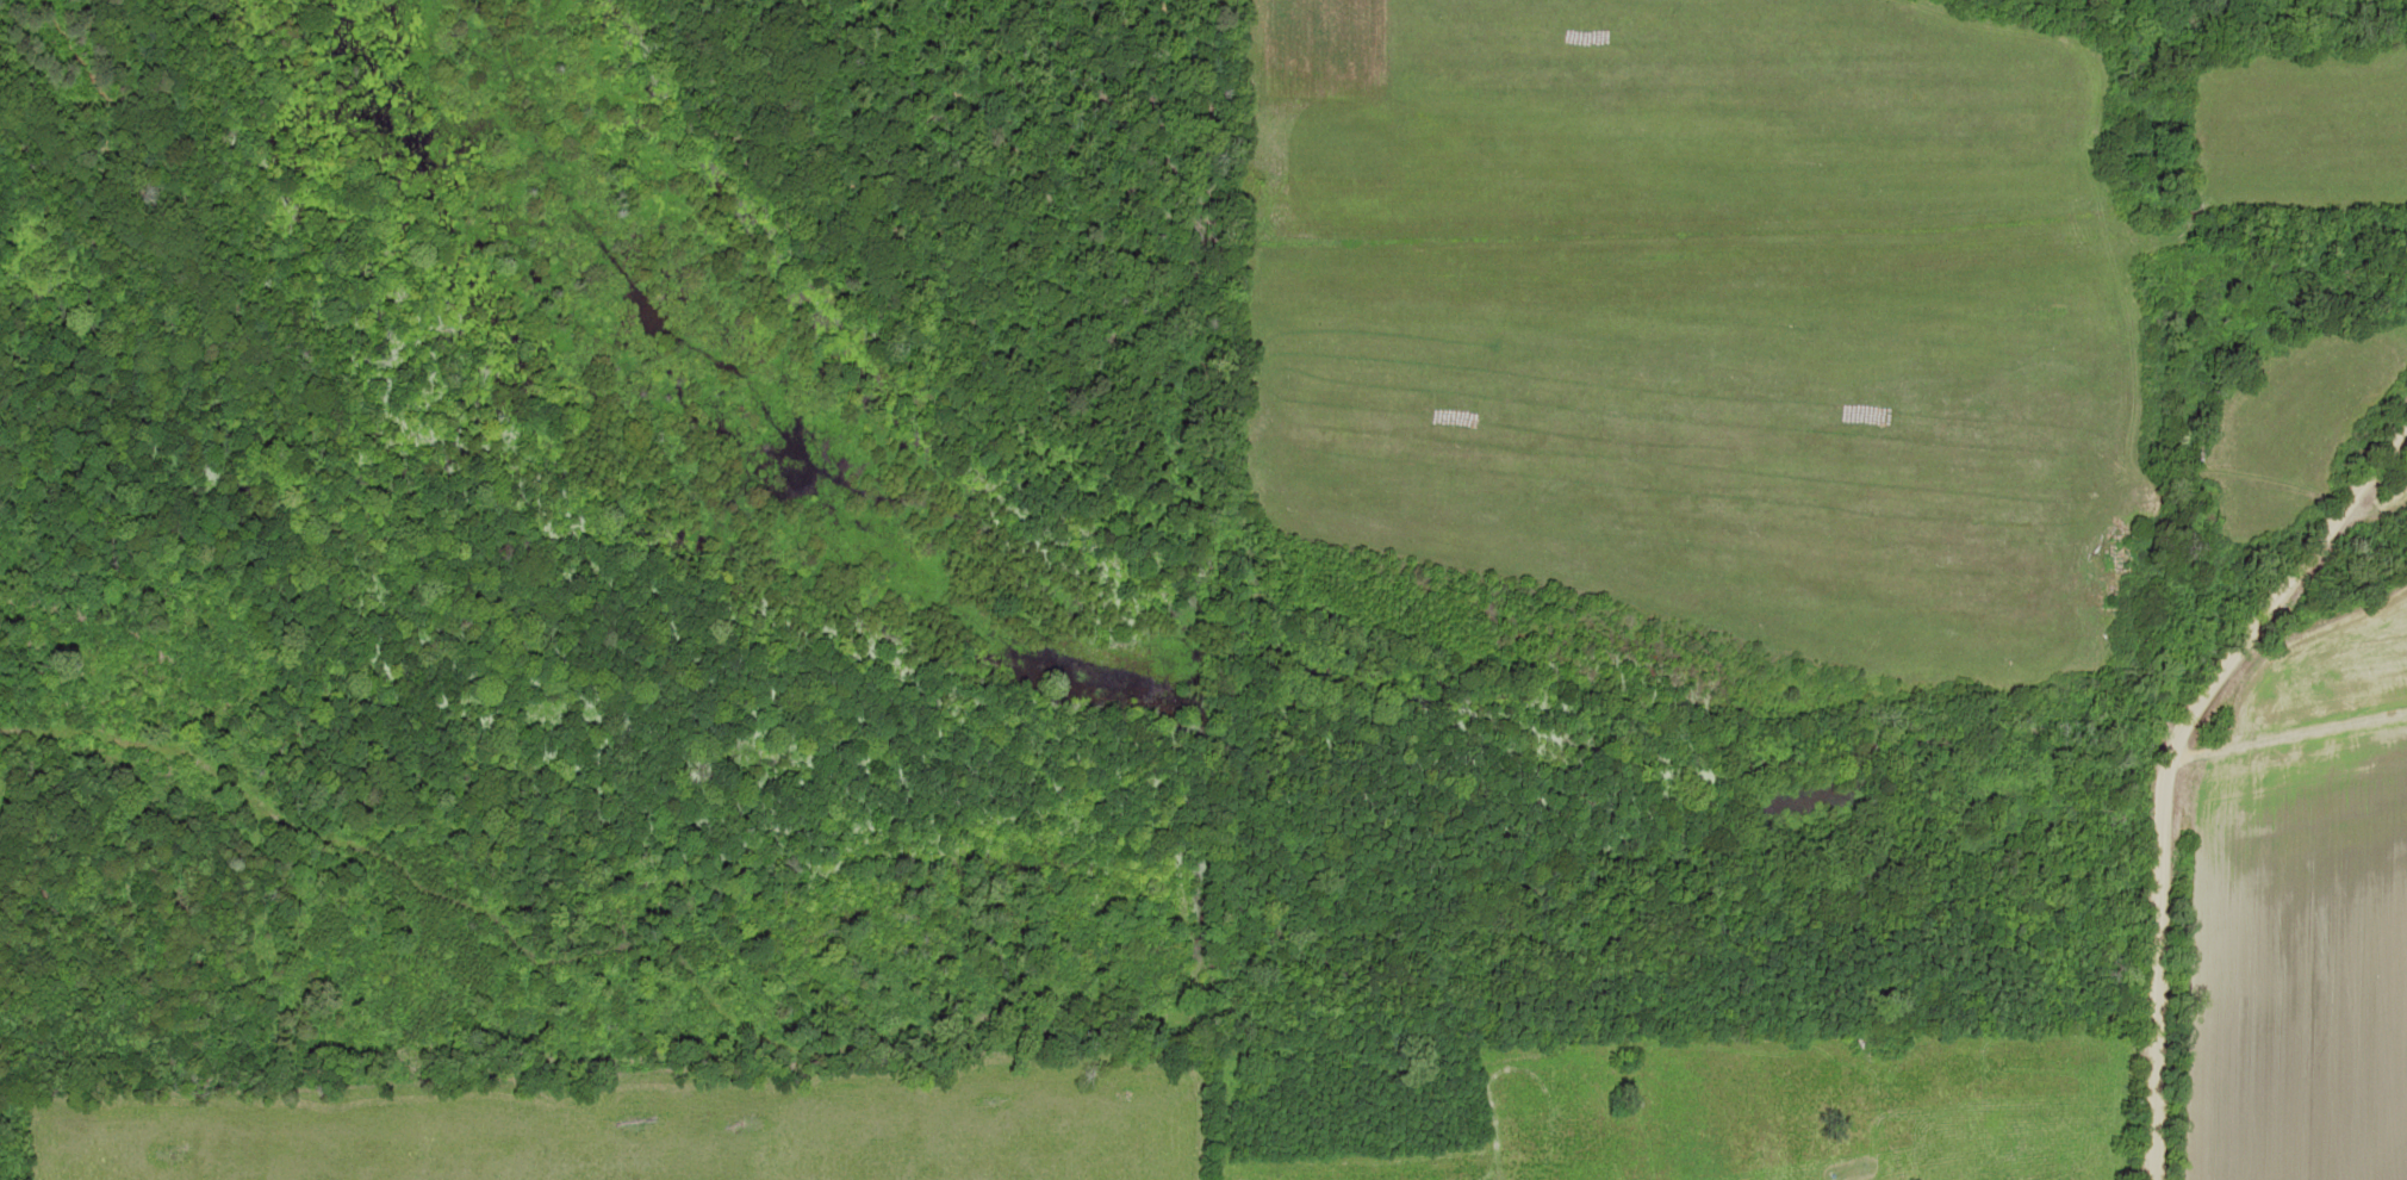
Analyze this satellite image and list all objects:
building: (2152, 505)
road: (2187, 763)

